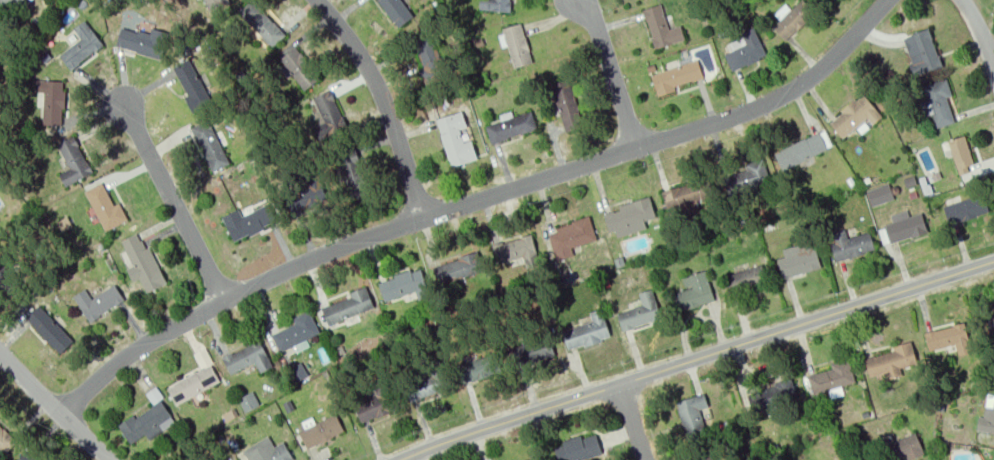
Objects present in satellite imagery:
building: (9, 2)
building: (212, 4)
building: (496, 6)
building: (397, 10)
building: (793, 17)
building: (260, 23)
building: (661, 29)
road: (980, 29)
building: (143, 38)
building: (82, 43)
building: (517, 44)
building: (748, 48)
building: (921, 50)
building: (433, 59)
building: (302, 67)
road: (614, 73)
building: (676, 75)
building: (194, 86)
building: (52, 98)
building: (939, 101)
road: (385, 103)
building: (566, 105)
building: (857, 114)
building: (328, 116)
building: (511, 124)
building: (455, 139)
building: (210, 145)
building: (801, 149)
building: (961, 154)
building: (74, 160)
building: (744, 174)
building: (360, 177)
building: (685, 193)
building: (880, 193)
building: (306, 200)
road: (175, 203)
road: (477, 203)
building: (104, 206)
building: (964, 208)
building: (627, 216)
building: (249, 221)
building: (905, 225)
building: (570, 236)
building: (851, 243)
building: (512, 247)
building: (798, 261)
building: (144, 263)
building: (458, 265)
building: (747, 279)
building: (403, 282)
building: (694, 291)
building: (99, 302)
building: (348, 305)
building: (641, 311)
building: (989, 321)
building: (292, 330)
building: (588, 330)
building: (48, 331)
building: (949, 338)
building: (533, 350)
building: (250, 357)
road: (694, 358)
building: (894, 359)
building: (478, 366)
building: (834, 377)
building: (193, 383)
building: (427, 385)
building: (774, 393)
building: (248, 400)
road: (56, 405)
building: (375, 408)
building: (692, 413)
building: (987, 415)
building: (148, 418)
road: (634, 421)
building: (320, 431)
building: (4, 437)
building: (903, 446)
building: (579, 447)
building: (267, 451)
building: (706, 456)
building: (29, 457)
building: (525, 458)
building: (845, 459)

